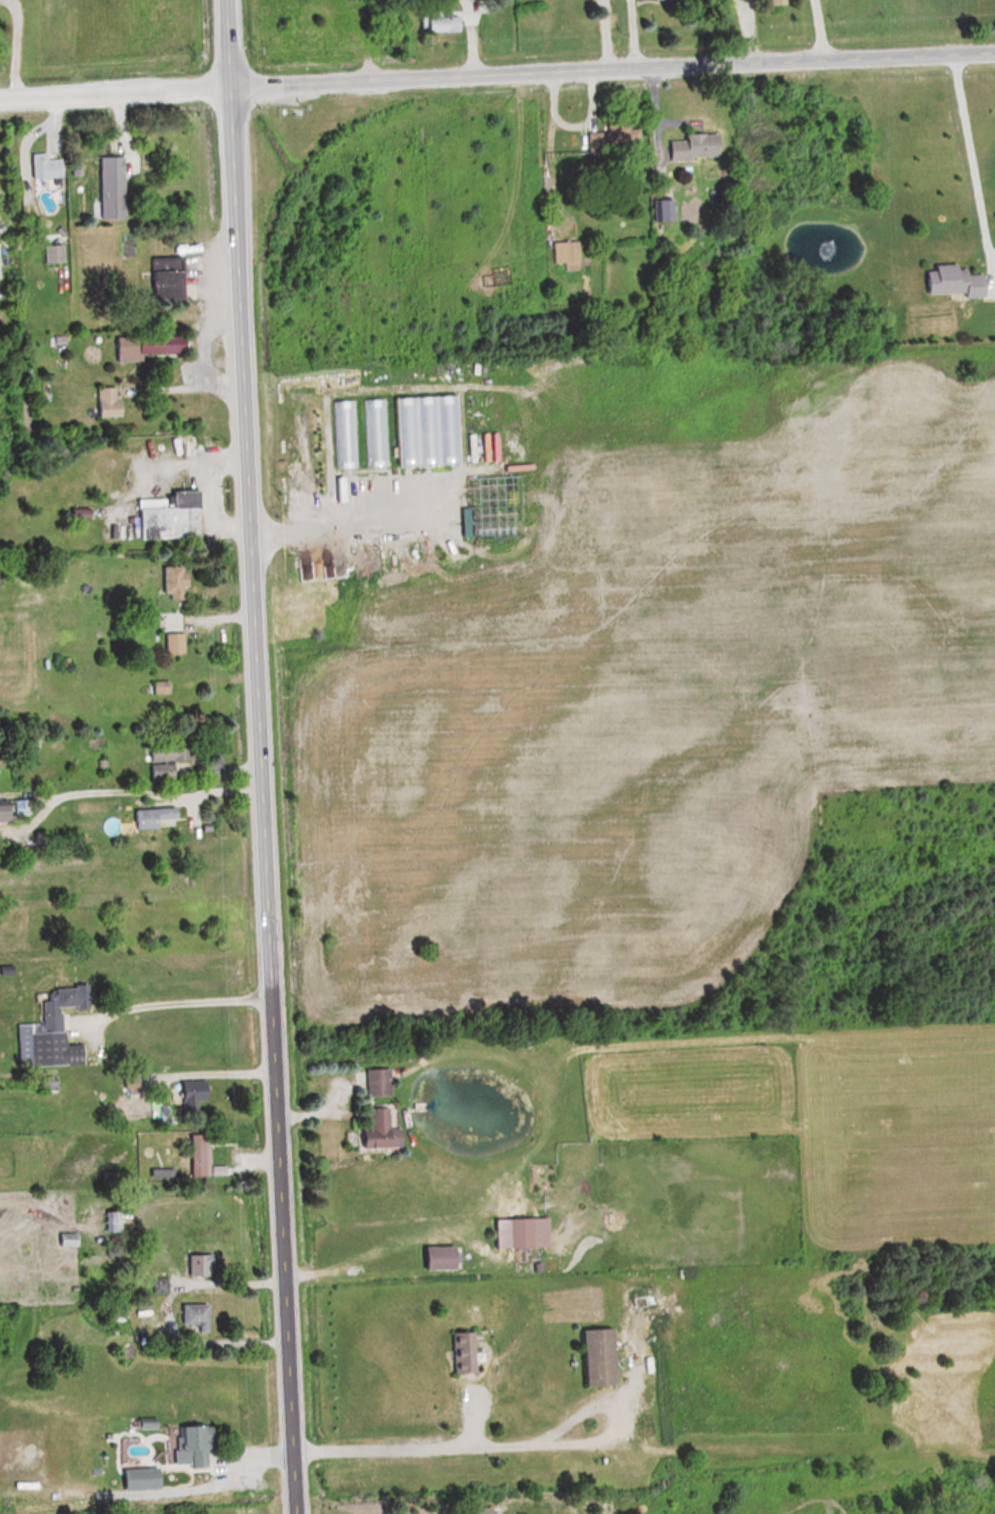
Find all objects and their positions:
building: (775, 2)
building: (437, 20)
road: (817, 30)
road: (627, 34)
road: (497, 75)
road: (567, 123)
building: (621, 133)
building: (690, 146)
building: (44, 166)
road: (975, 168)
building: (108, 187)
building: (661, 209)
building: (564, 253)
building: (51, 254)
building: (162, 278)
building: (948, 281)
building: (141, 347)
road: (198, 363)
road: (169, 389)
building: (104, 402)
building: (450, 432)
building: (407, 433)
building: (430, 433)
building: (373, 435)
building: (342, 436)
building: (166, 516)
road: (343, 521)
building: (375, 550)
building: (170, 582)
building: (172, 643)
building: (159, 687)
road: (256, 757)
building: (160, 762)
road: (122, 789)
building: (8, 810)
building: (149, 816)
road: (167, 1000)
building: (44, 1031)
road: (212, 1070)
building: (375, 1082)
building: (190, 1097)
building: (374, 1132)
building: (202, 1158)
building: (112, 1222)
building: (518, 1234)
building: (67, 1240)
building: (434, 1259)
building: (195, 1267)
road: (161, 1308)
building: (193, 1317)
building: (458, 1353)
building: (594, 1358)
road: (591, 1436)
building: (187, 1444)
road: (392, 1444)
building: (136, 1477)

